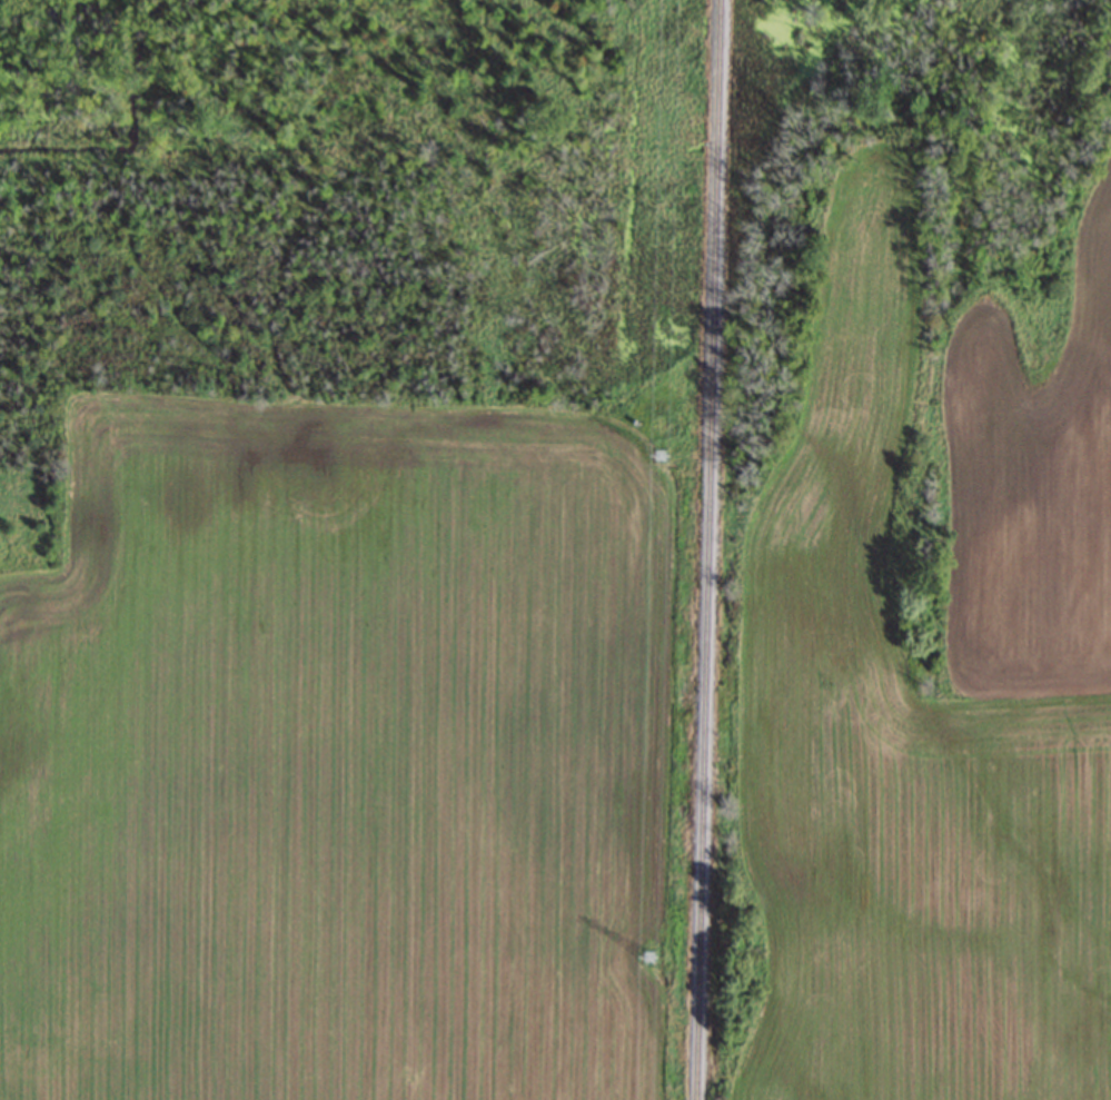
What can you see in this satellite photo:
railway: (721, 549)
power tower: (647, 958)

